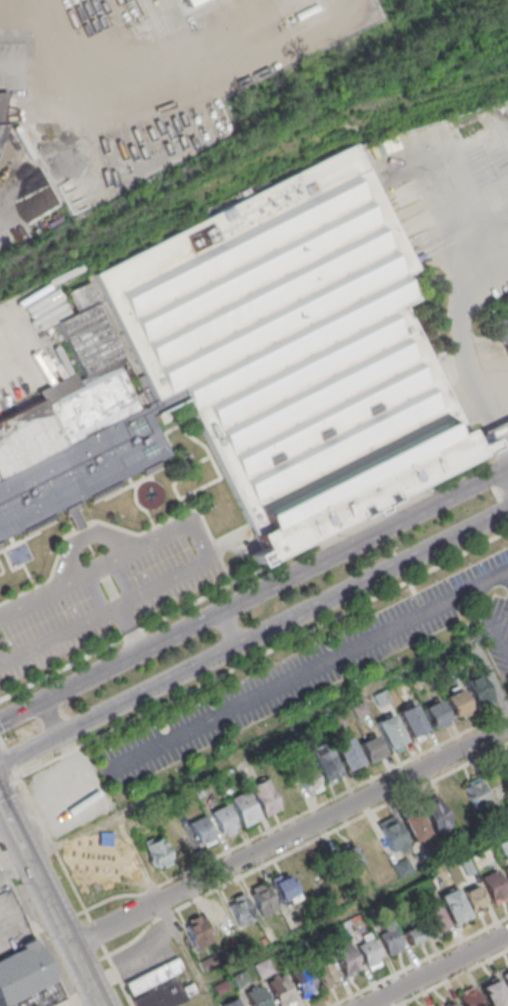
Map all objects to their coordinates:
building: (133, 25)
road: (260, 32)
building: (223, 35)
road: (314, 39)
building: (175, 109)
building: (3, 111)
road: (59, 137)
building: (483, 150)
building: (502, 327)
road: (463, 338)
building: (296, 352)
building: (61, 420)
road: (491, 428)
road: (502, 449)
building: (78, 471)
road: (209, 554)
road: (253, 574)
road: (506, 574)
parking lot: (105, 589)
road: (254, 599)
road: (491, 620)
road: (232, 629)
road: (133, 632)
road: (253, 637)
road: (333, 658)
parking lot: (322, 670)
building: (477, 690)
building: (457, 704)
road: (48, 713)
building: (435, 714)
building: (413, 723)
building: (391, 734)
building: (372, 750)
road: (247, 751)
building: (347, 754)
road: (10, 755)
building: (506, 763)
building: (326, 765)
building: (308, 778)
road: (10, 786)
building: (476, 793)
building: (264, 798)
building: (457, 805)
building: (243, 809)
road: (299, 816)
building: (435, 816)
building: (223, 822)
building: (415, 827)
road: (8, 831)
building: (201, 831)
road: (291, 837)
building: (392, 838)
road: (305, 846)
road: (56, 849)
building: (372, 851)
building: (157, 852)
building: (340, 861)
road: (16, 868)
building: (507, 871)
building: (283, 888)
building: (496, 888)
building: (262, 899)
building: (474, 899)
road: (52, 900)
building: (240, 909)
road: (355, 909)
building: (456, 909)
road: (165, 910)
building: (433, 918)
building: (219, 920)
parking lot: (12, 927)
building: (197, 931)
building: (412, 933)
building: (388, 941)
building: (367, 953)
building: (346, 959)
road: (422, 963)
building: (262, 968)
road: (437, 970)
building: (324, 974)
building: (156, 978)
building: (506, 979)
building: (28, 980)
building: (303, 983)
building: (281, 992)
building: (493, 993)
building: (169, 994)
building: (258, 998)
building: (468, 999)
building: (234, 1004)
building: (450, 1004)

